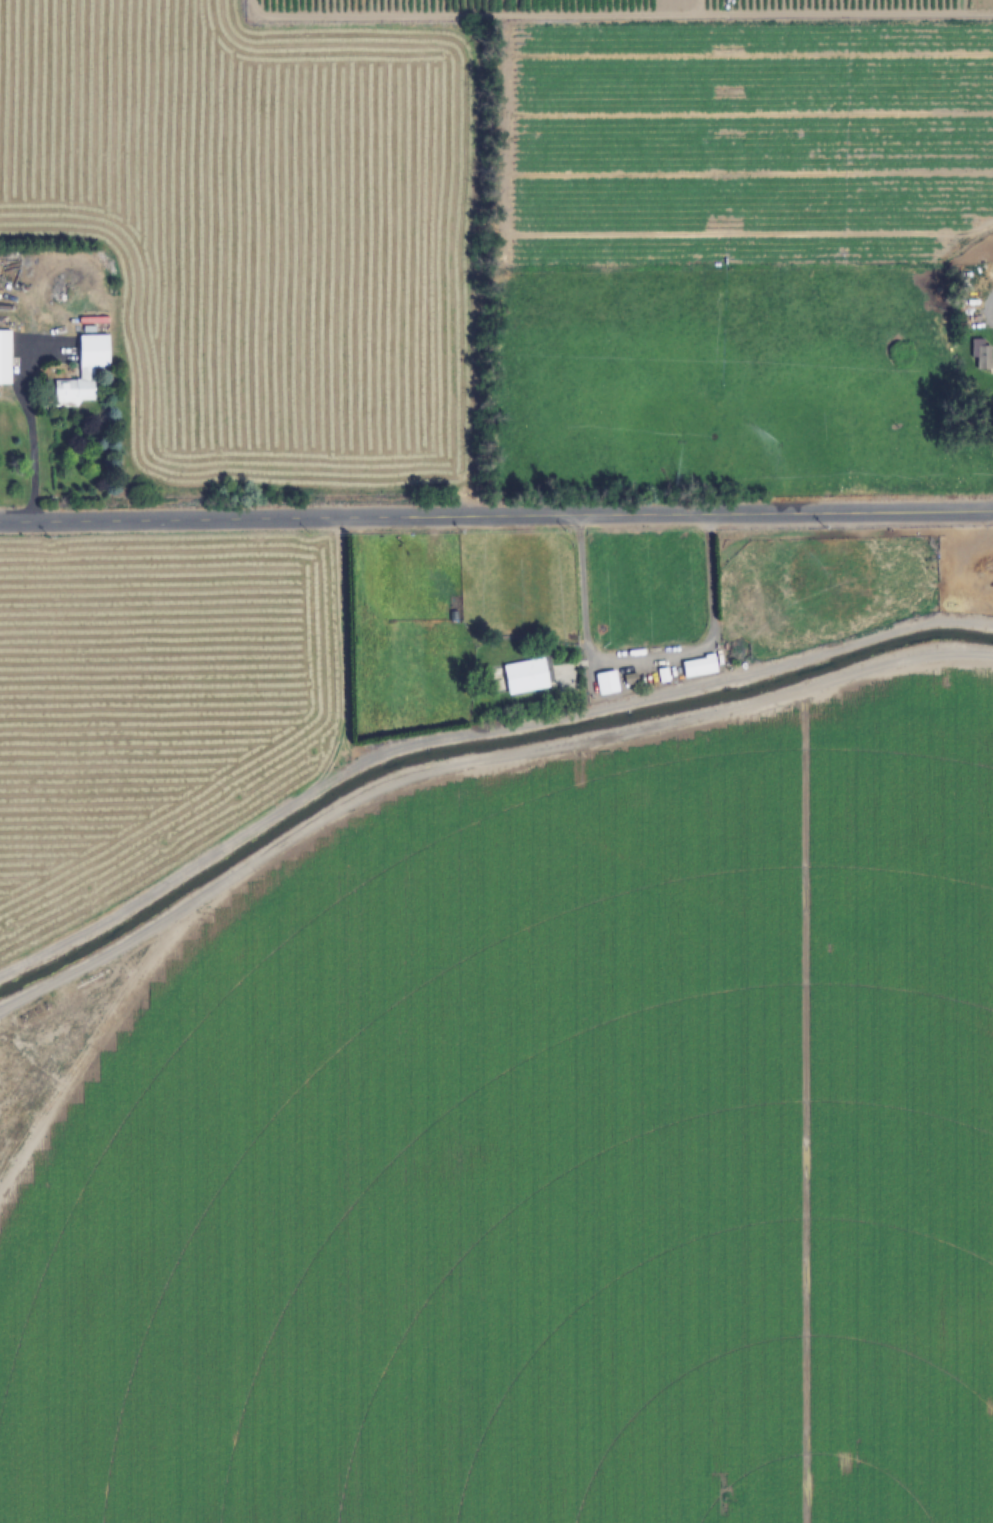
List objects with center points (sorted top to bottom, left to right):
building: (5, 358)
building: (83, 373)
road: (496, 516)
building: (698, 666)
building: (526, 677)

